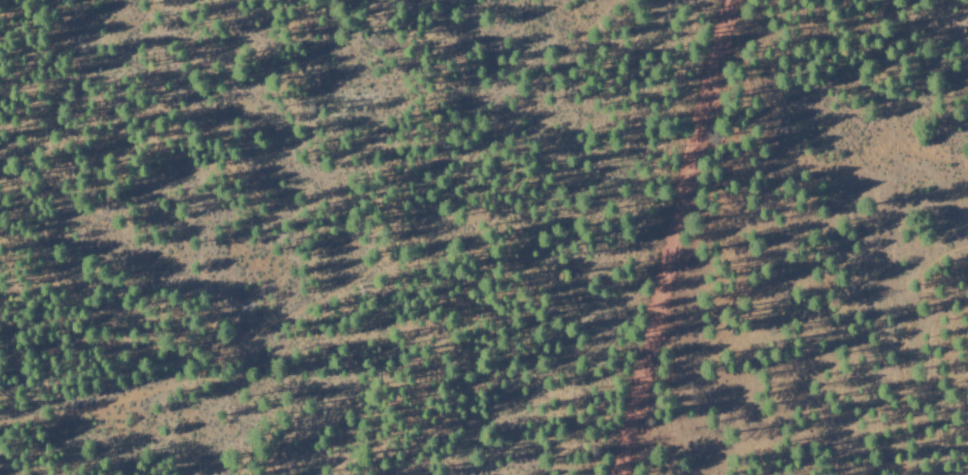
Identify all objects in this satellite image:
road: (672, 238)
road: (892, 339)

